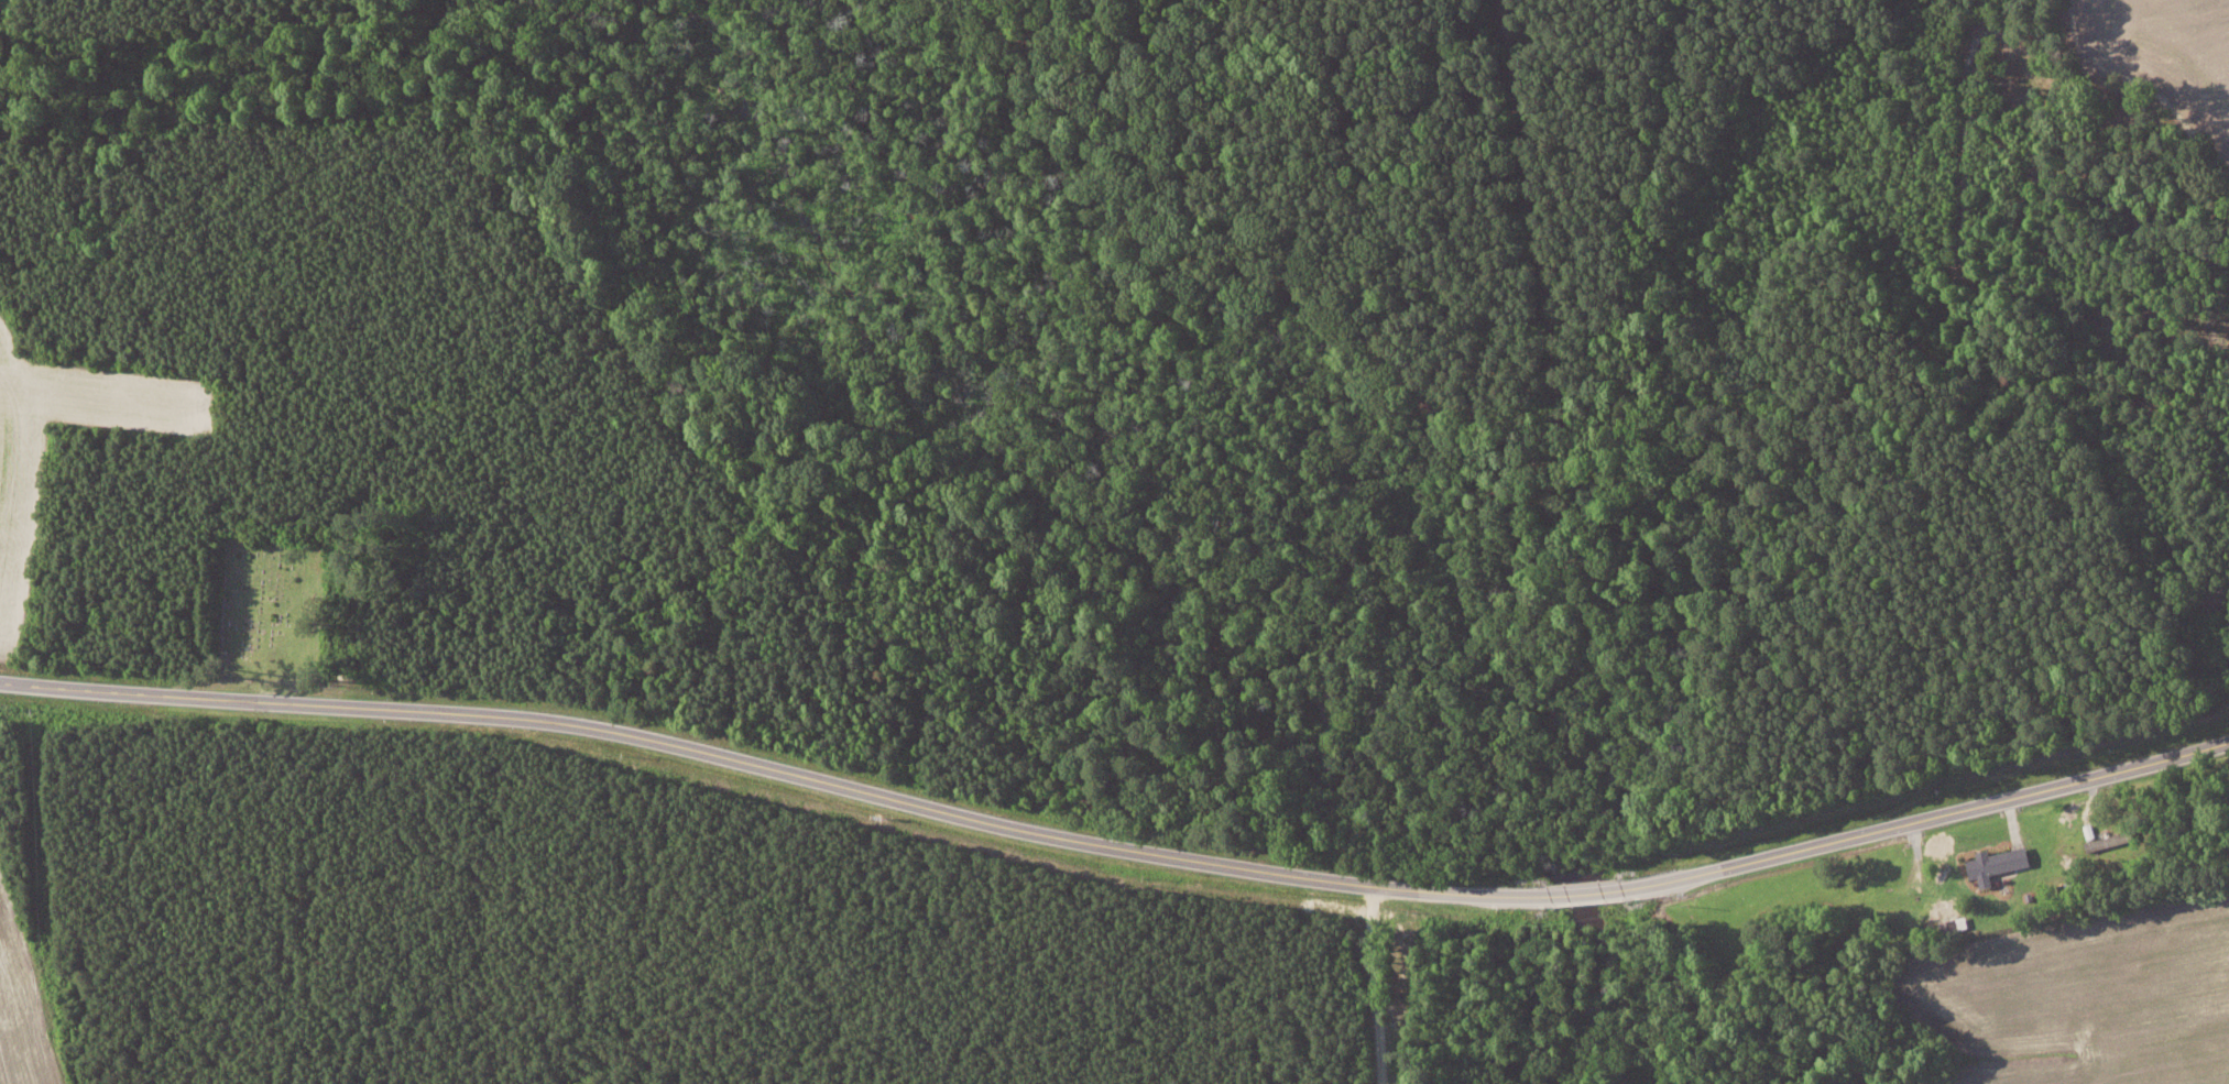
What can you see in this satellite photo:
building: (2101, 839)
road: (1115, 842)
building: (1999, 863)
road: (1373, 983)

